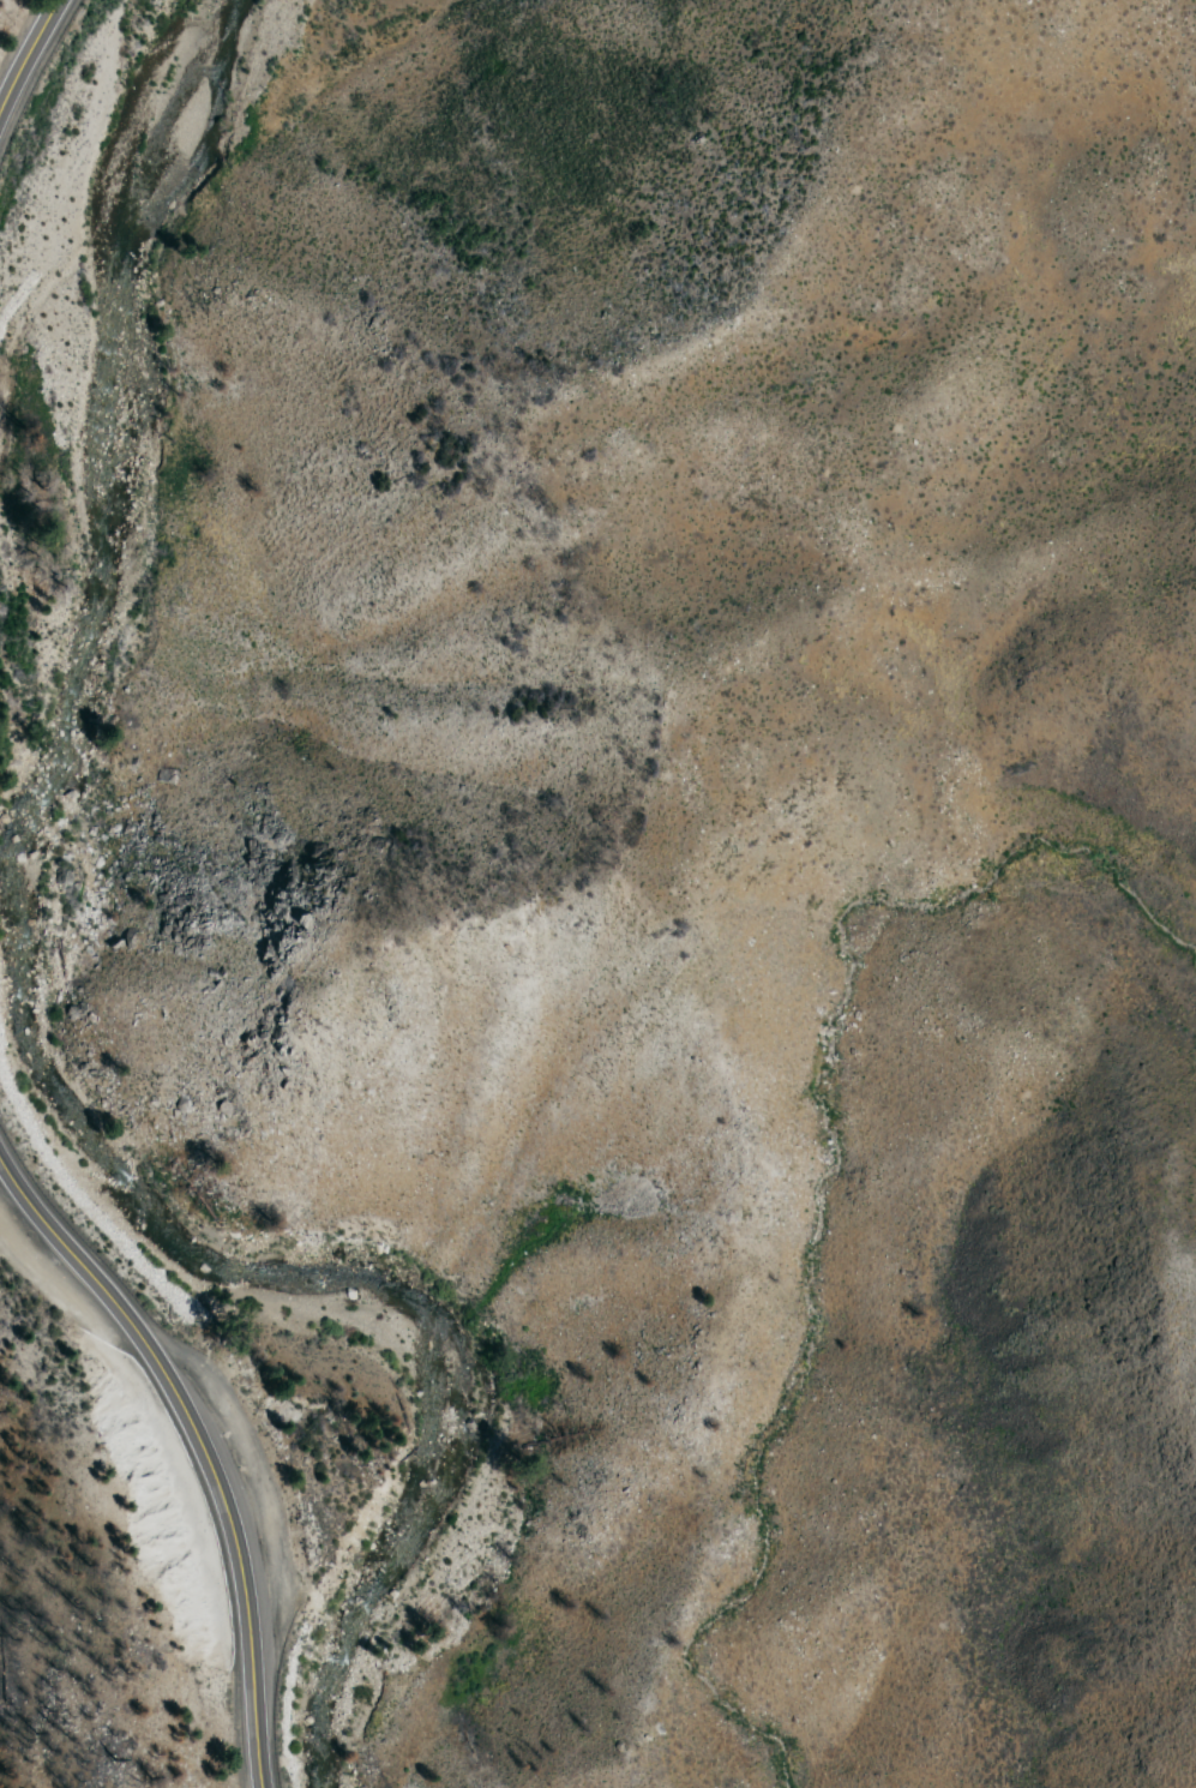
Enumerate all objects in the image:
road: (25, 48)
river: (22, 1018)
road: (200, 1448)
parking lot: (240, 1490)

